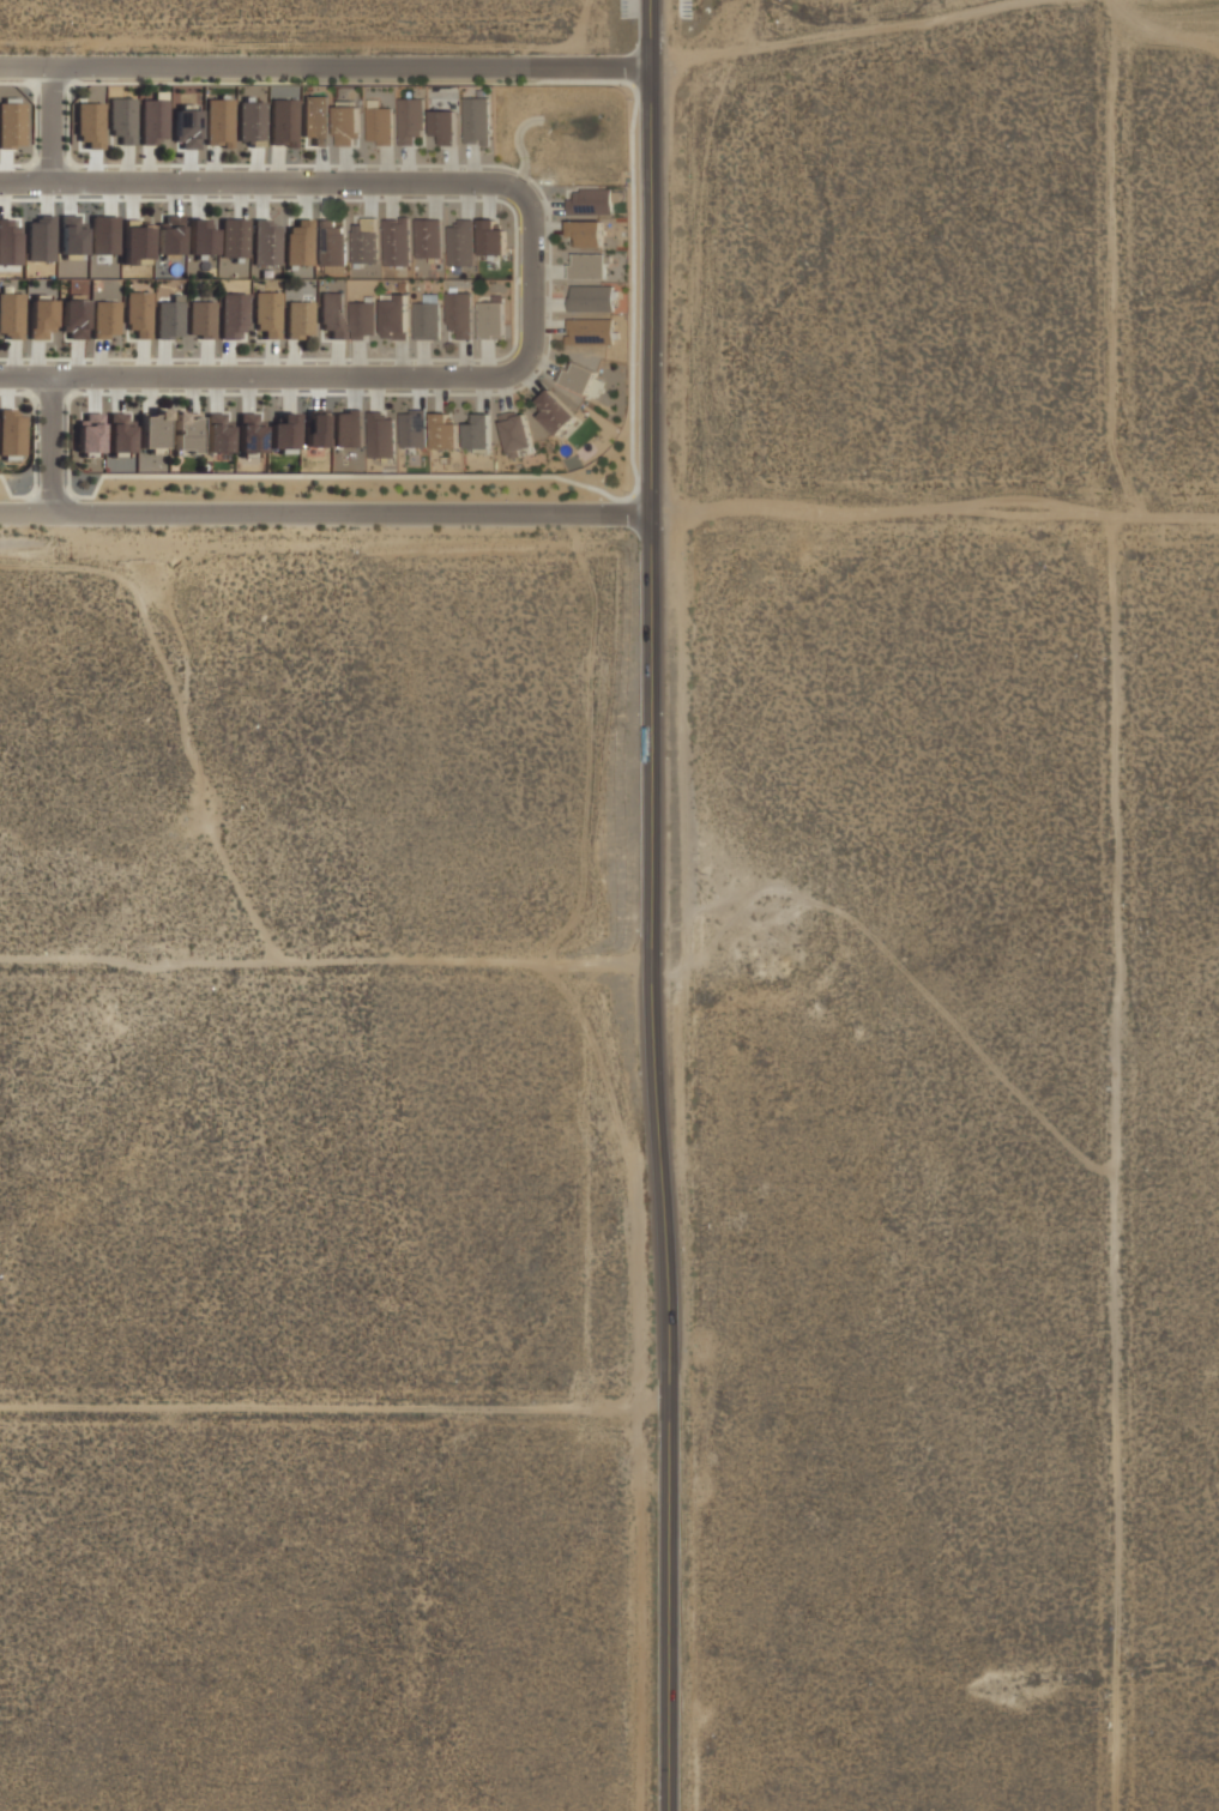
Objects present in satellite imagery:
road: (326, 70)
building: (121, 120)
building: (411, 120)
building: (152, 121)
building: (249, 121)
building: (477, 121)
building: (10, 122)
building: (217, 122)
building: (282, 122)
building: (89, 125)
road: (50, 126)
building: (348, 126)
building: (380, 126)
building: (446, 126)
building: (186, 128)
road: (518, 147)
road: (126, 165)
road: (146, 165)
road: (212, 165)
road: (254, 165)
road: (276, 165)
road: (321, 165)
road: (343, 165)
road: (385, 165)
road: (449, 165)
road: (471, 165)
road: (95, 167)
road: (189, 167)
road: (408, 167)
road: (4, 168)
road: (173, 195)
road: (304, 197)
road: (368, 197)
road: (487, 197)
road: (1, 198)
road: (132, 198)
road: (195, 198)
road: (240, 198)
road: (260, 198)
road: (326, 198)
road: (391, 198)
road: (433, 198)
road: (465, 198)
building: (592, 199)
road: (545, 207)
building: (102, 224)
road: (547, 228)
building: (586, 234)
building: (170, 235)
building: (427, 237)
building: (200, 239)
building: (234, 239)
building: (490, 239)
building: (40, 240)
building: (71, 240)
building: (363, 241)
building: (266, 242)
building: (394, 242)
building: (459, 242)
building: (10, 243)
building: (137, 243)
building: (298, 243)
building: (330, 246)
building: (590, 265)
road: (548, 270)
road: (530, 280)
building: (590, 298)
road: (547, 303)
building: (137, 314)
building: (266, 314)
building: (331, 314)
building: (460, 314)
building: (10, 315)
building: (233, 316)
building: (394, 316)
building: (169, 318)
building: (104, 319)
building: (200, 319)
building: (297, 319)
building: (38, 320)
building: (73, 320)
building: (362, 320)
building: (491, 320)
building: (427, 321)
road: (545, 325)
road: (11, 360)
road: (36, 360)
road: (97, 360)
road: (140, 360)
road: (163, 360)
road: (270, 360)
road: (292, 360)
road: (357, 360)
road: (74, 361)
road: (205, 361)
road: (228, 361)
road: (336, 361)
road: (400, 361)
road: (422, 361)
road: (465, 361)
road: (485, 361)
street lamp: (478, 364)
road: (542, 364)
building: (578, 376)
road: (527, 379)
road: (5, 390)
road: (355, 390)
road: (418, 390)
road: (95, 391)
road: (116, 391)
road: (149, 391)
road: (189, 391)
road: (286, 391)
road: (217, 392)
road: (247, 392)
road: (374, 392)
road: (439, 392)
road: (483, 392)
road: (503, 392)
building: (554, 411)
building: (348, 429)
building: (153, 430)
building: (379, 430)
building: (442, 431)
building: (514, 431)
building: (11, 433)
building: (90, 433)
building: (120, 433)
building: (477, 433)
building: (186, 434)
building: (218, 434)
building: (251, 434)
building: (283, 434)
road: (48, 446)
road: (327, 517)
road: (936, 518)
road: (654, 905)
road: (327, 974)
road: (1126, 1165)

